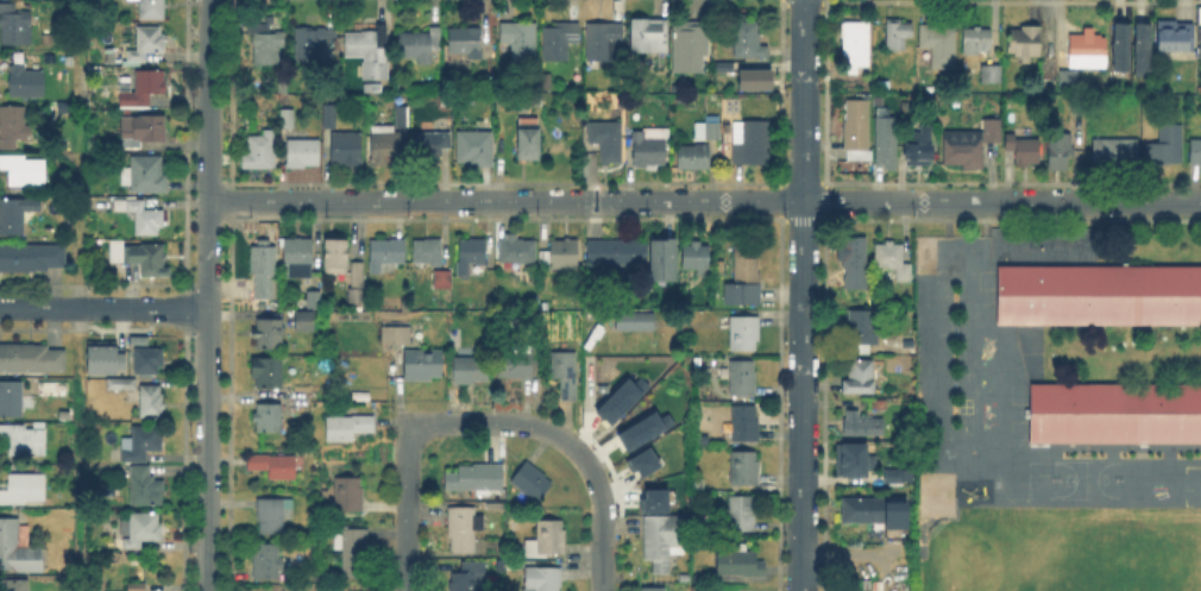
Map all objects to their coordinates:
building: (155, 8)
building: (17, 23)
building: (1174, 34)
building: (897, 36)
building: (469, 39)
building: (649, 39)
building: (1200, 39)
building: (150, 40)
building: (312, 42)
building: (518, 42)
building: (559, 42)
building: (747, 42)
building: (975, 42)
building: (266, 43)
building: (604, 43)
building: (939, 43)
building: (1121, 43)
building: (1143, 43)
building: (686, 44)
building: (855, 44)
building: (1025, 44)
building: (365, 45)
building: (420, 45)
building: (1088, 50)
building: (721, 65)
building: (992, 71)
building: (375, 73)
building: (1064, 76)
building: (752, 77)
building: (27, 80)
building: (146, 87)
road: (209, 99)
building: (329, 117)
building: (402, 117)
building: (287, 120)
building: (15, 121)
building: (145, 128)
building: (856, 131)
building: (708, 132)
building: (528, 140)
building: (884, 140)
building: (605, 142)
building: (916, 144)
building: (750, 145)
building: (1165, 145)
building: (385, 147)
building: (649, 147)
building: (973, 147)
building: (429, 149)
building: (262, 150)
building: (346, 150)
building: (474, 150)
building: (1023, 151)
building: (1115, 152)
building: (1059, 153)
building: (1195, 153)
building: (302, 155)
building: (693, 158)
building: (25, 169)
building: (146, 172)
road: (704, 200)
building: (12, 219)
building: (142, 219)
building: (428, 250)
building: (122, 253)
road: (208, 253)
building: (517, 253)
building: (620, 253)
building: (696, 254)
building: (298, 256)
building: (560, 256)
building: (665, 256)
building: (385, 257)
building: (470, 257)
building: (335, 258)
building: (31, 259)
building: (151, 260)
building: (892, 262)
building: (854, 263)
building: (717, 264)
building: (263, 270)
building: (356, 275)
building: (742, 277)
building: (442, 281)
road: (78, 295)
road: (803, 295)
building: (1099, 296)
building: (356, 298)
building: (313, 301)
road: (103, 308)
building: (635, 322)
building: (303, 323)
building: (862, 329)
building: (744, 334)
building: (268, 335)
building: (397, 335)
building: (136, 339)
building: (101, 356)
building: (31, 360)
building: (147, 361)
building: (422, 366)
building: (515, 366)
building: (471, 371)
building: (565, 372)
building: (266, 375)
building: (742, 379)
building: (860, 379)
building: (118, 382)
building: (122, 385)
building: (599, 386)
building: (615, 400)
building: (11, 401)
building: (150, 404)
building: (61, 413)
building: (1114, 417)
building: (268, 420)
building: (860, 423)
building: (744, 425)
building: (348, 428)
building: (637, 429)
road: (562, 440)
building: (24, 442)
building: (142, 442)
road: (207, 449)
building: (850, 458)
building: (640, 460)
building: (273, 467)
building: (744, 469)
building: (888, 473)
building: (474, 479)
park: (1071, 482)
building: (530, 483)
building: (703, 484)
building: (23, 490)
building: (143, 490)
building: (696, 497)
building: (348, 498)
building: (652, 499)
road: (407, 507)
building: (272, 516)
building: (737, 516)
building: (876, 518)
building: (464, 530)
building: (142, 532)
building: (547, 541)
building: (662, 542)
building: (17, 552)
building: (352, 552)
road: (848, 561)
building: (268, 564)
building: (740, 564)
park: (1090, 572)
building: (470, 577)
building: (681, 577)
building: (543, 579)
building: (14, 584)
building: (136, 587)
building: (692, 587)
building: (654, 589)

